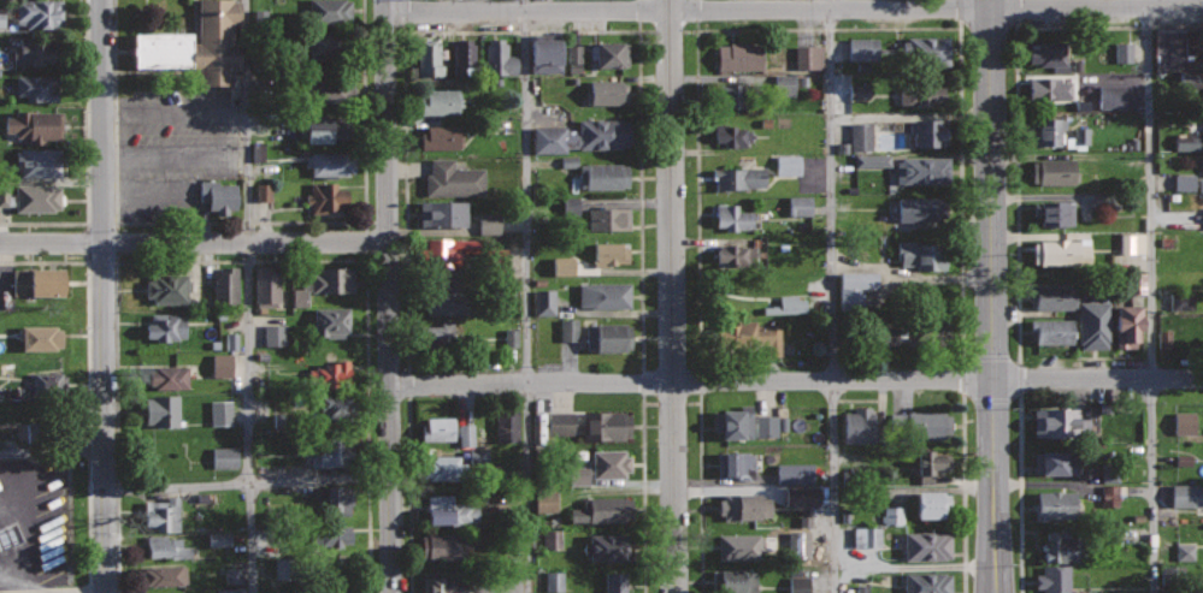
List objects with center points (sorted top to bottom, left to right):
road: (385, 7)
road: (794, 8)
building: (329, 12)
building: (40, 13)
building: (1, 16)
road: (828, 29)
road: (519, 31)
building: (196, 43)
building: (328, 45)
building: (1173, 48)
building: (862, 49)
building: (34, 51)
building: (927, 51)
building: (546, 52)
building: (1098, 52)
building: (607, 53)
building: (1049, 53)
building: (1122, 53)
building: (465, 54)
building: (739, 55)
building: (430, 58)
building: (500, 58)
building: (808, 58)
building: (573, 59)
building: (1195, 79)
building: (1166, 84)
building: (784, 85)
building: (37, 87)
building: (331, 89)
building: (1051, 90)
building: (607, 91)
building: (920, 91)
building: (859, 93)
building: (738, 95)
building: (1111, 96)
building: (440, 101)
building: (35, 124)
building: (324, 129)
building: (931, 131)
building: (1048, 131)
building: (601, 134)
building: (733, 135)
building: (441, 136)
building: (860, 136)
building: (1078, 138)
building: (1189, 142)
building: (256, 152)
road: (85, 154)
building: (872, 160)
building: (39, 161)
building: (331, 161)
building: (788, 164)
building: (922, 168)
building: (1054, 171)
building: (603, 174)
building: (739, 177)
building: (454, 178)
building: (1184, 182)
building: (263, 191)
road: (1019, 191)
building: (4, 194)
building: (222, 196)
building: (329, 196)
building: (37, 197)
building: (571, 206)
building: (798, 206)
building: (921, 208)
building: (1054, 212)
building: (443, 213)
building: (733, 217)
building: (609, 218)
road: (238, 223)
building: (488, 223)
road: (193, 243)
building: (1132, 243)
building: (449, 251)
building: (1061, 251)
building: (611, 253)
building: (924, 254)
building: (736, 255)
building: (562, 265)
building: (1136, 281)
building: (37, 283)
building: (225, 284)
building: (324, 284)
building: (266, 286)
building: (167, 287)
building: (854, 289)
building: (605, 295)
building: (742, 295)
building: (1052, 295)
road: (101, 296)
road: (249, 296)
road: (527, 296)
road: (673, 296)
road: (833, 296)
road: (991, 296)
road: (1151, 296)
building: (449, 301)
building: (544, 302)
road: (365, 303)
road: (387, 304)
building: (788, 304)
building: (331, 320)
building: (1181, 321)
building: (1095, 325)
building: (1128, 325)
building: (166, 326)
building: (568, 330)
building: (1052, 330)
building: (925, 332)
building: (273, 334)
building: (436, 334)
building: (756, 334)
building: (896, 336)
building: (40, 337)
building: (511, 337)
building: (608, 337)
building: (231, 340)
building: (222, 364)
building: (1, 366)
building: (330, 372)
road: (87, 375)
building: (170, 376)
road: (795, 380)
building: (52, 383)
building: (340, 407)
building: (163, 410)
building: (220, 411)
building: (735, 422)
building: (1058, 422)
building: (1184, 422)
road: (117, 423)
building: (508, 425)
building: (606, 425)
building: (765, 425)
building: (861, 425)
building: (920, 425)
building: (437, 429)
building: (47, 432)
building: (465, 434)
road: (51, 452)
building: (329, 452)
building: (224, 457)
building: (1183, 459)
building: (1055, 462)
building: (611, 463)
building: (738, 463)
building: (930, 464)
building: (446, 468)
building: (794, 473)
building: (1109, 473)
road: (643, 493)
road: (700, 493)
road: (963, 493)
road: (1020, 493)
road: (409, 494)
building: (1109, 494)
building: (801, 496)
building: (1186, 496)
building: (335, 500)
building: (544, 502)
building: (933, 504)
building: (1055, 504)
building: (743, 505)
building: (605, 509)
building: (452, 510)
building: (164, 514)
building: (892, 515)
parking lot: (35, 526)
building: (7, 535)
building: (326, 535)
building: (867, 536)
building: (218, 538)
building: (550, 539)
building: (928, 544)
building: (739, 545)
building: (170, 546)
building: (443, 546)
building: (609, 546)
building: (1061, 547)
building: (1185, 552)
road: (28, 567)
building: (337, 567)
building: (282, 570)
building: (164, 575)
building: (232, 575)
road: (14, 579)
building: (1054, 579)
building: (554, 581)
building: (735, 581)
building: (615, 582)
building: (927, 582)
building: (798, 583)
building: (443, 585)
building: (340, 587)
building: (862, 588)
building: (226, 591)
road: (67, 592)
building: (1084, 592)

